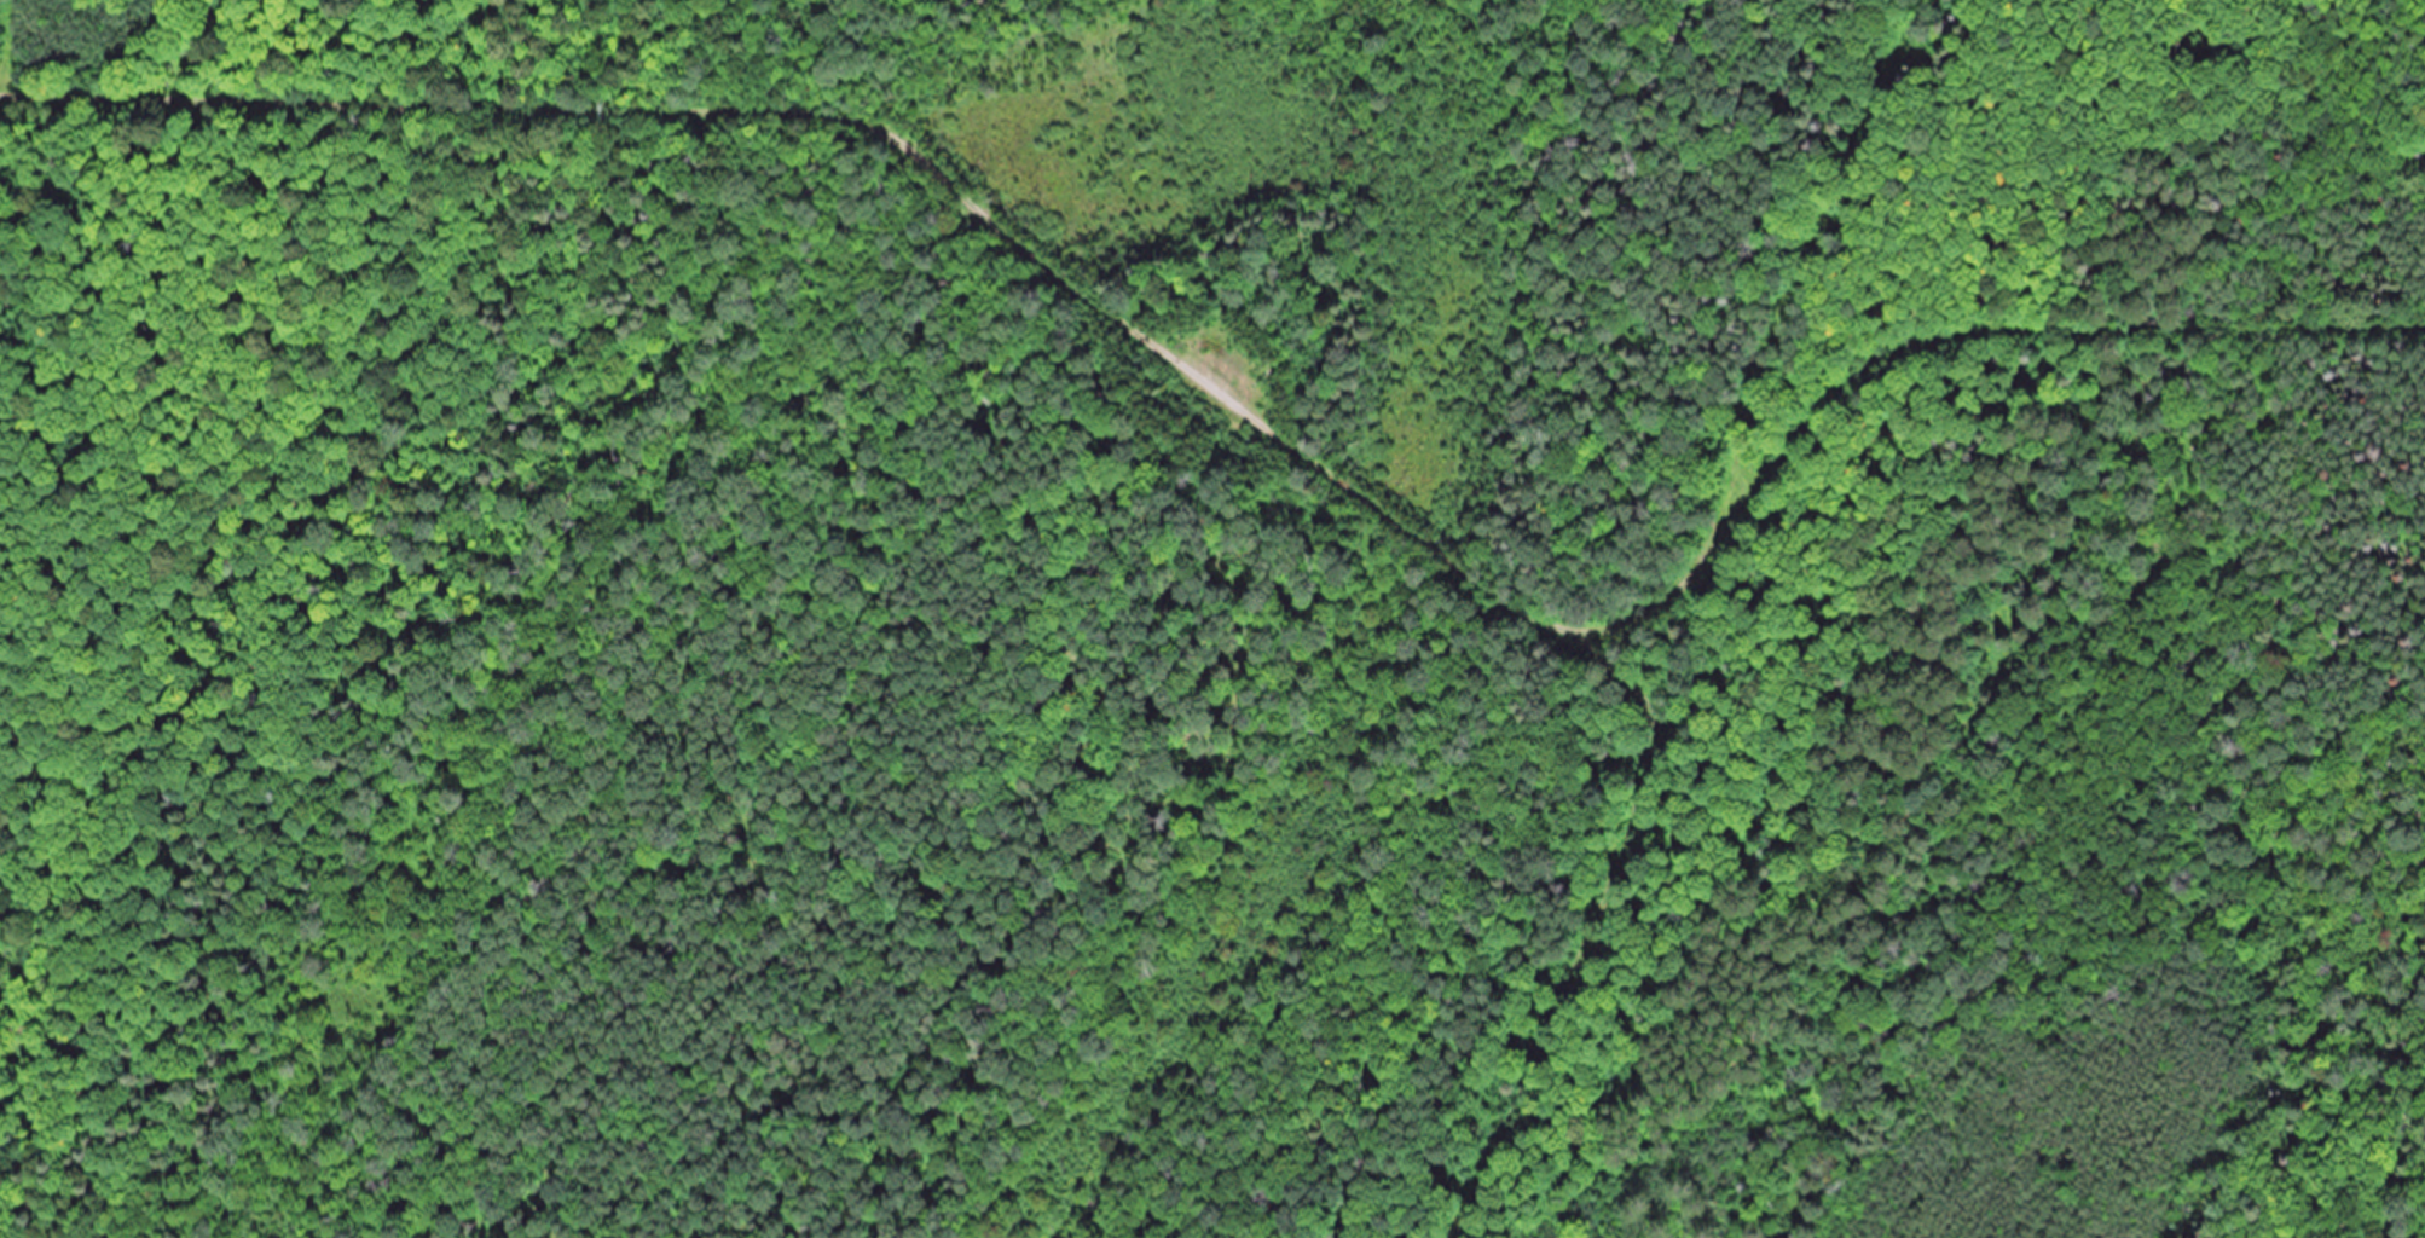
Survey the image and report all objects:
road: (1808, 256)
road: (1255, 429)

